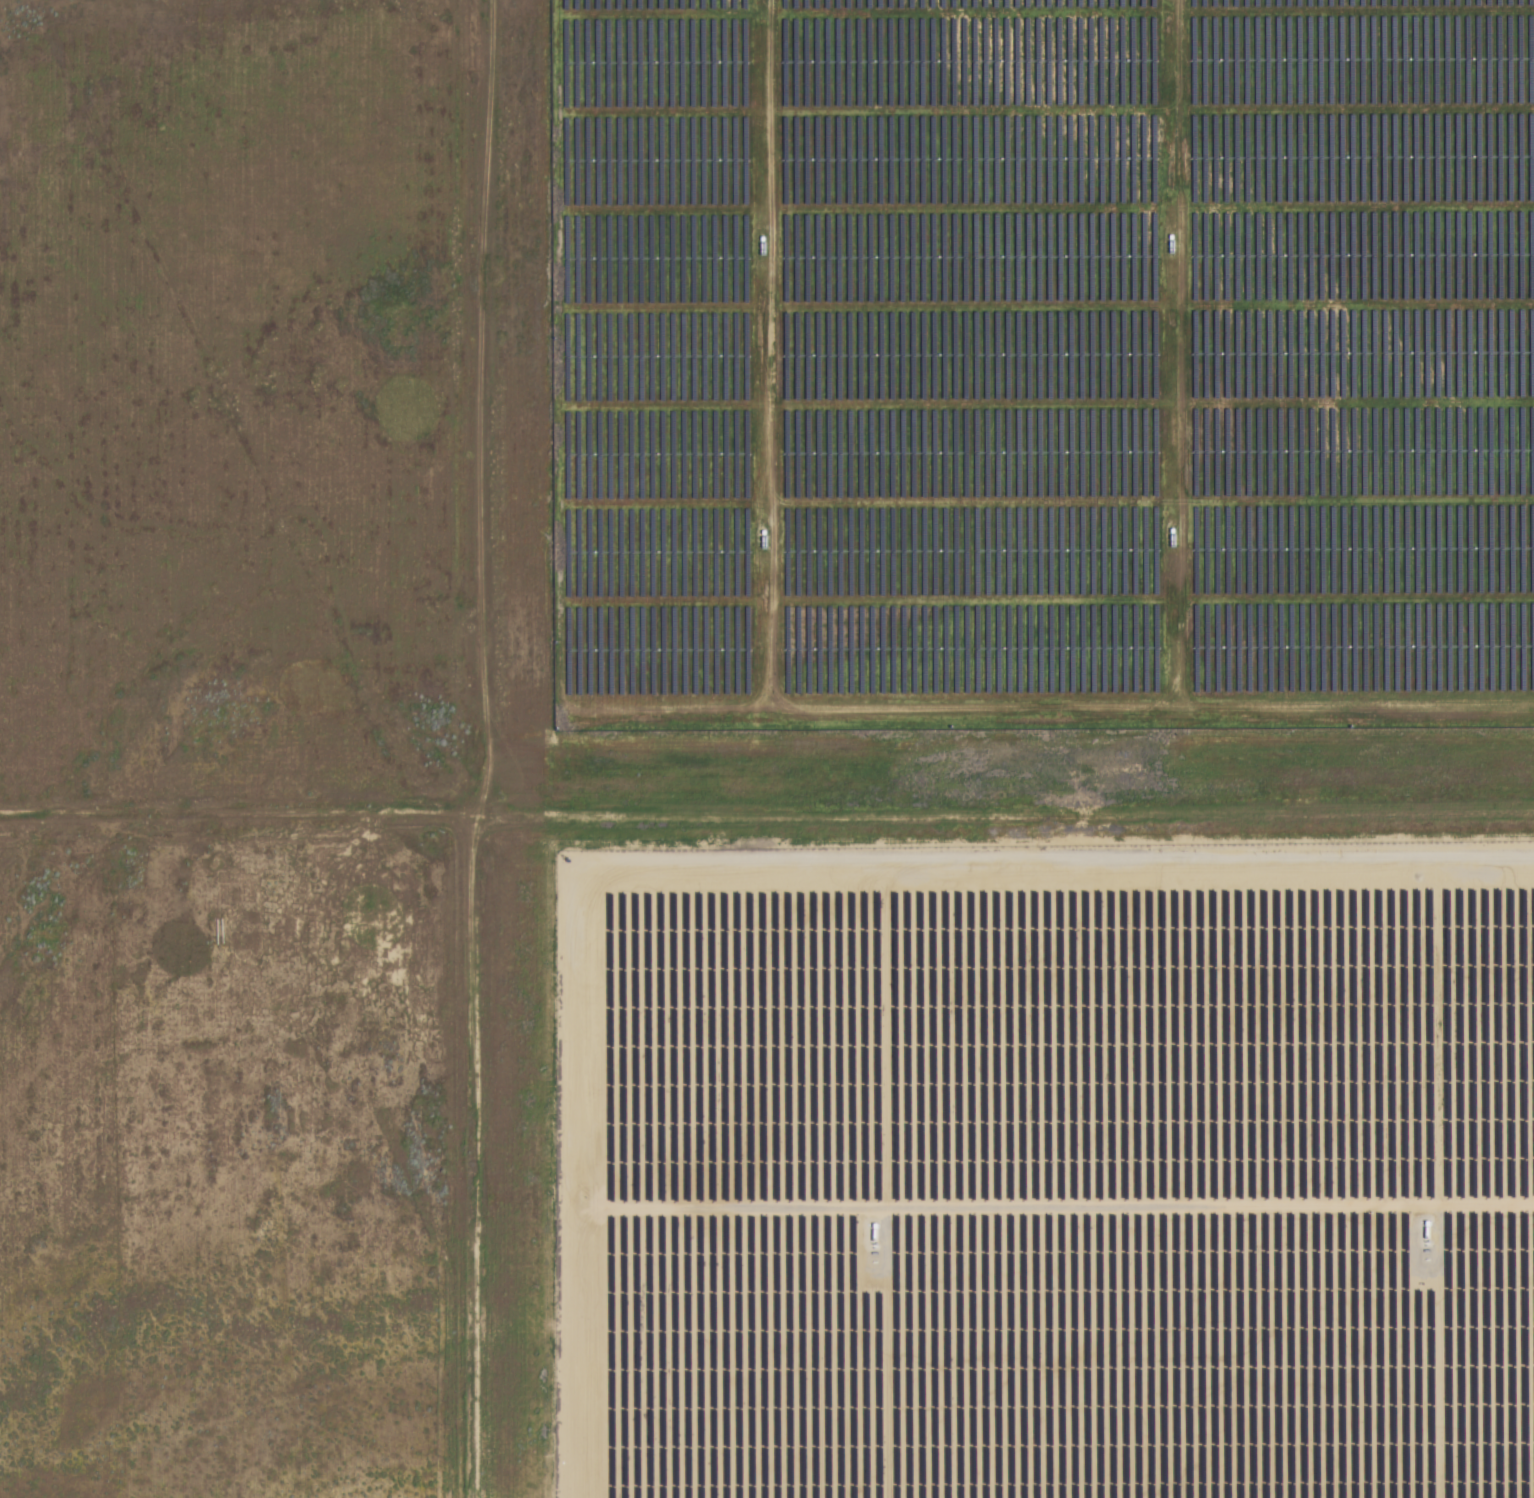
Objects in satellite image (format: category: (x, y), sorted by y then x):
road: (478, 748)
road: (766, 834)
solar farm: (1045, 1169)

